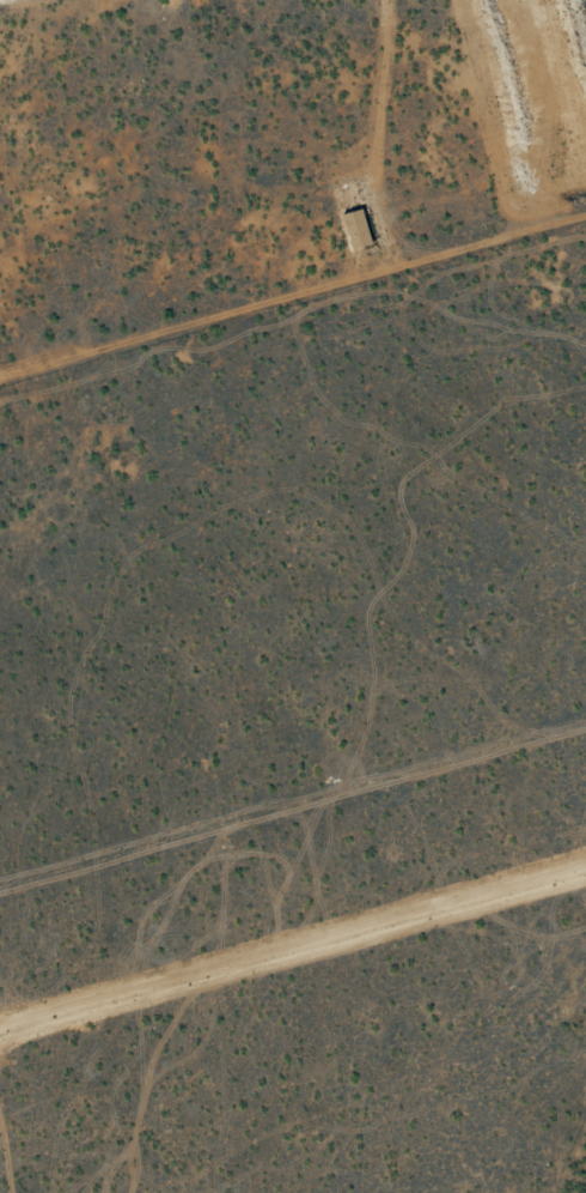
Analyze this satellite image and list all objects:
building: (353, 230)

